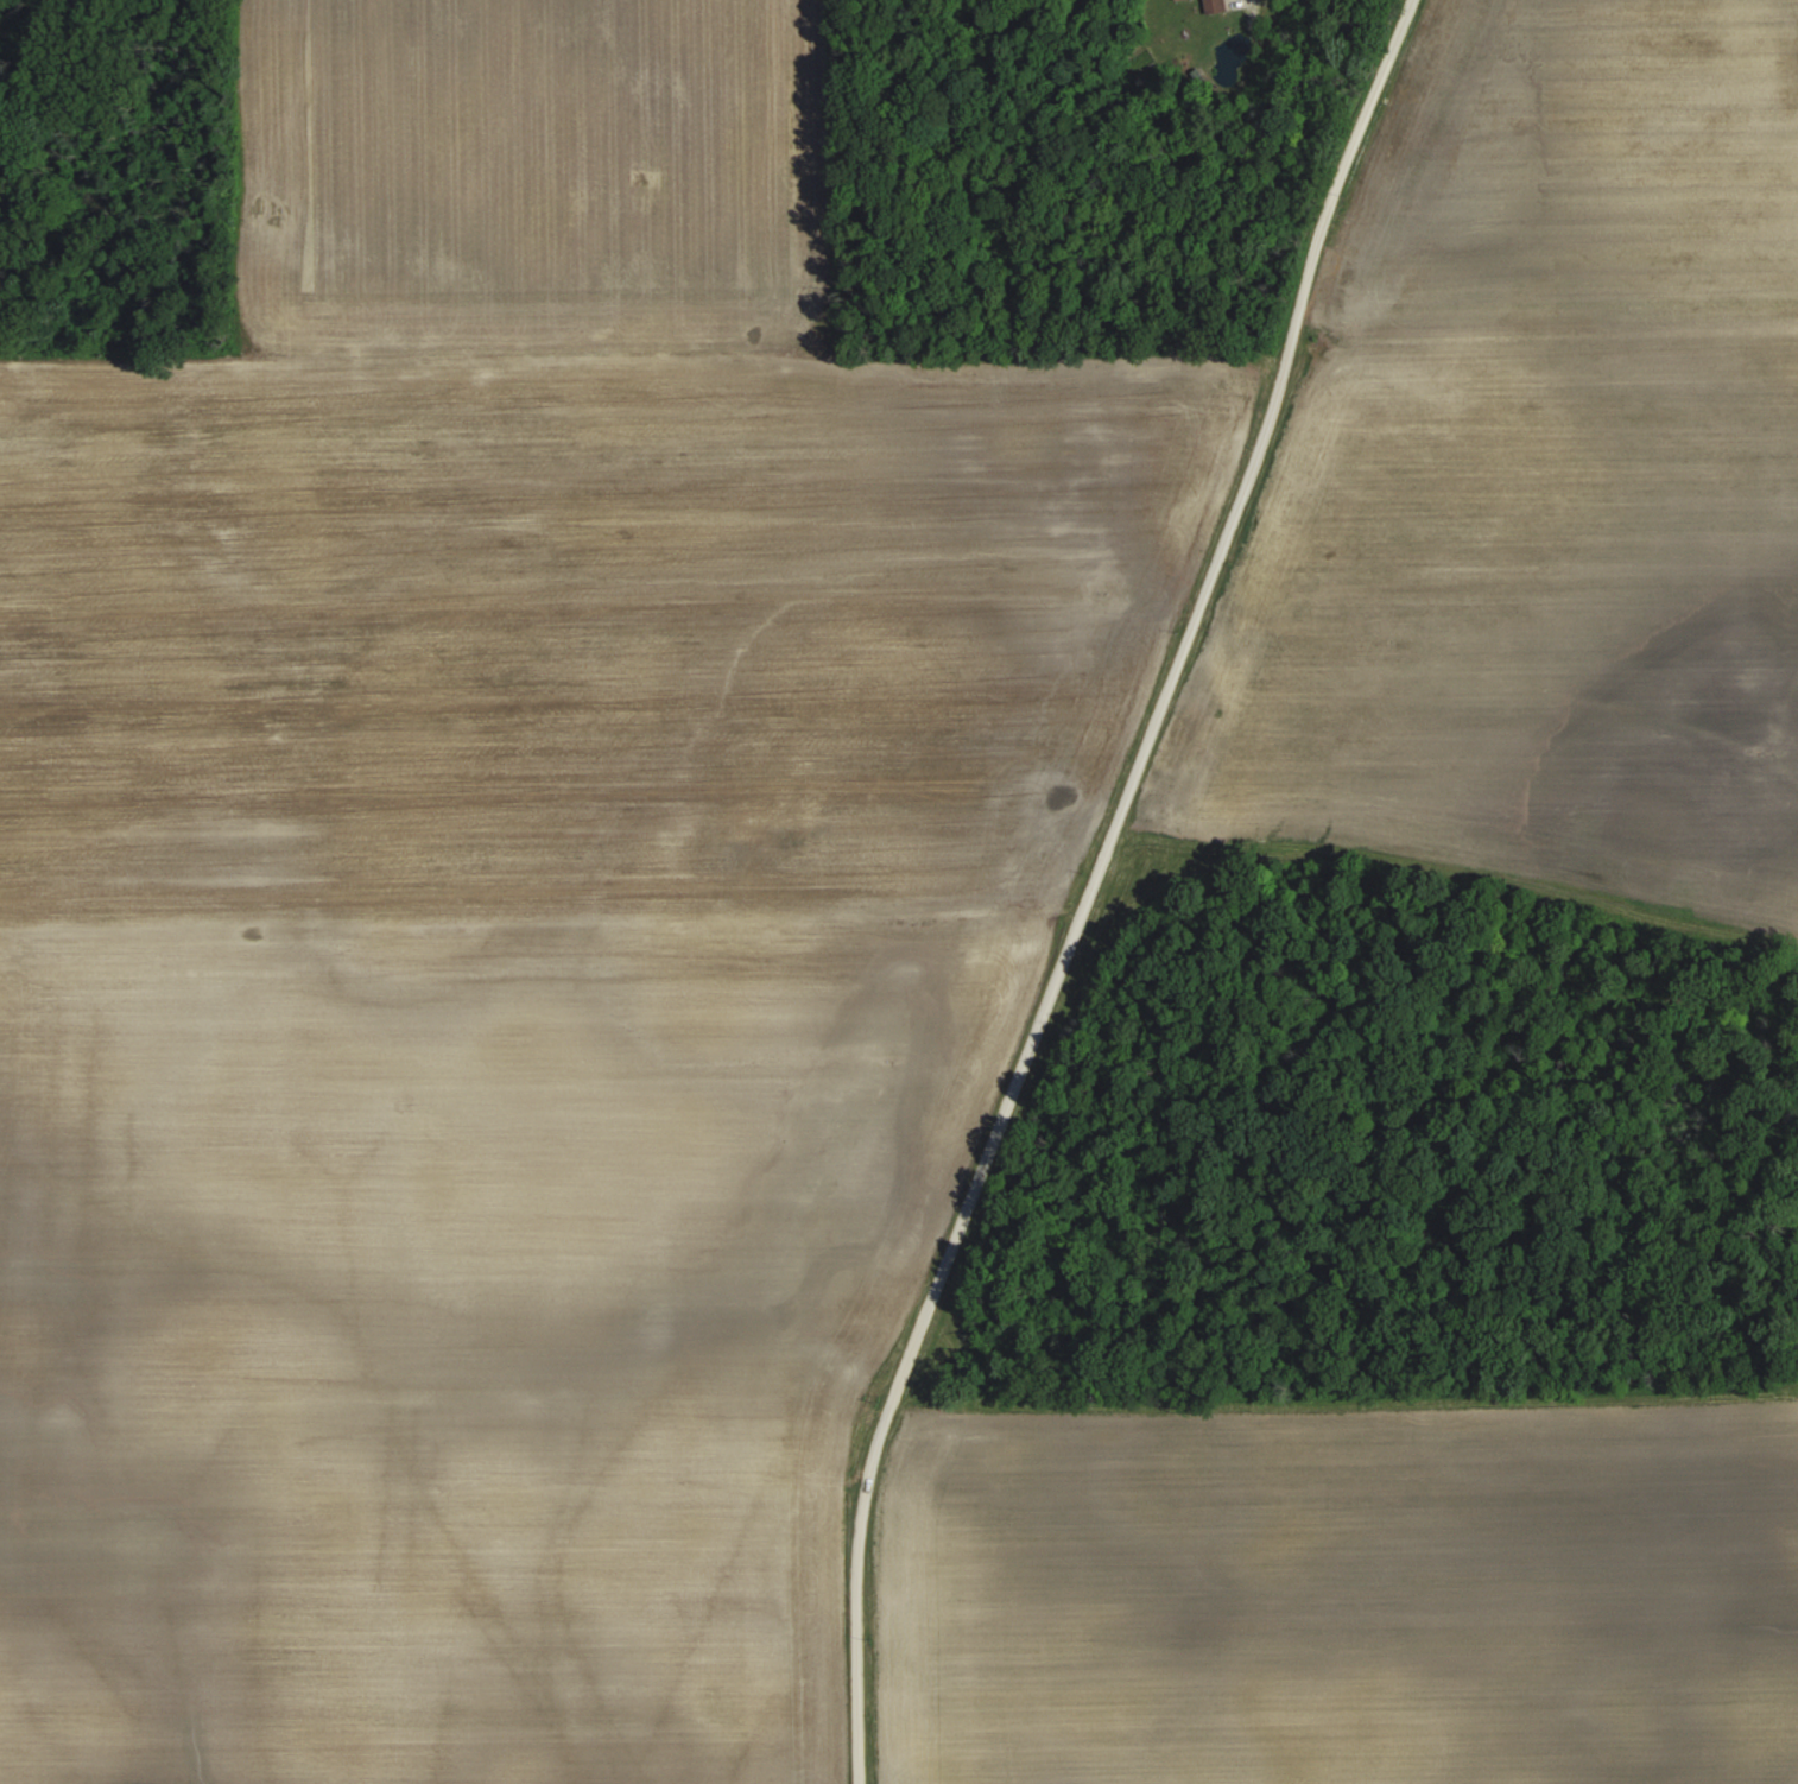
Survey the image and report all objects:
building: (1213, 5)
road: (1091, 884)

